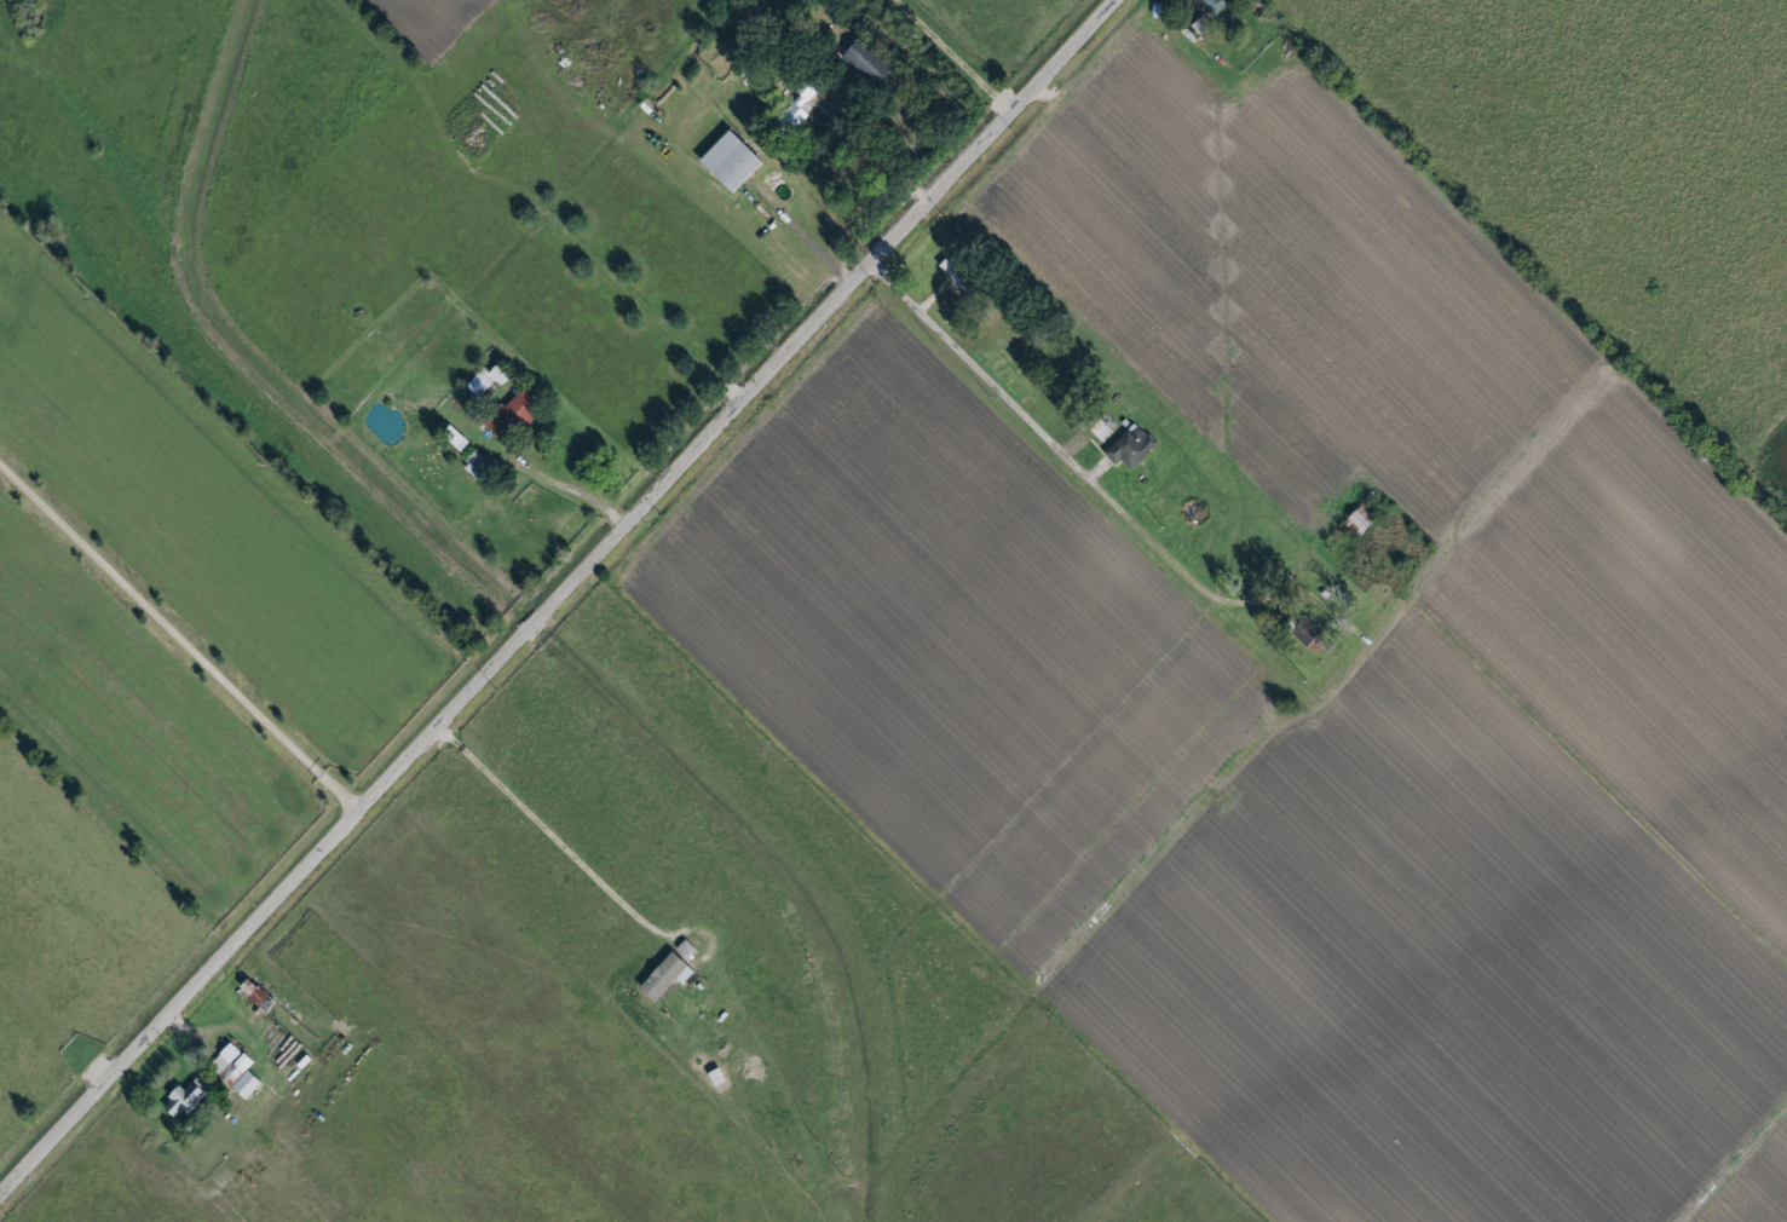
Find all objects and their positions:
building: (1212, 5)
building: (871, 62)
building: (734, 161)
road: (878, 162)
building: (955, 276)
building: (488, 379)
building: (517, 413)
road: (1034, 428)
building: (1132, 446)
building: (477, 465)
road: (570, 491)
road: (1261, 598)
road: (559, 603)
building: (1307, 635)
road: (179, 641)
road: (542, 834)
building: (669, 975)
building: (259, 995)
building: (240, 1070)
building: (189, 1096)

